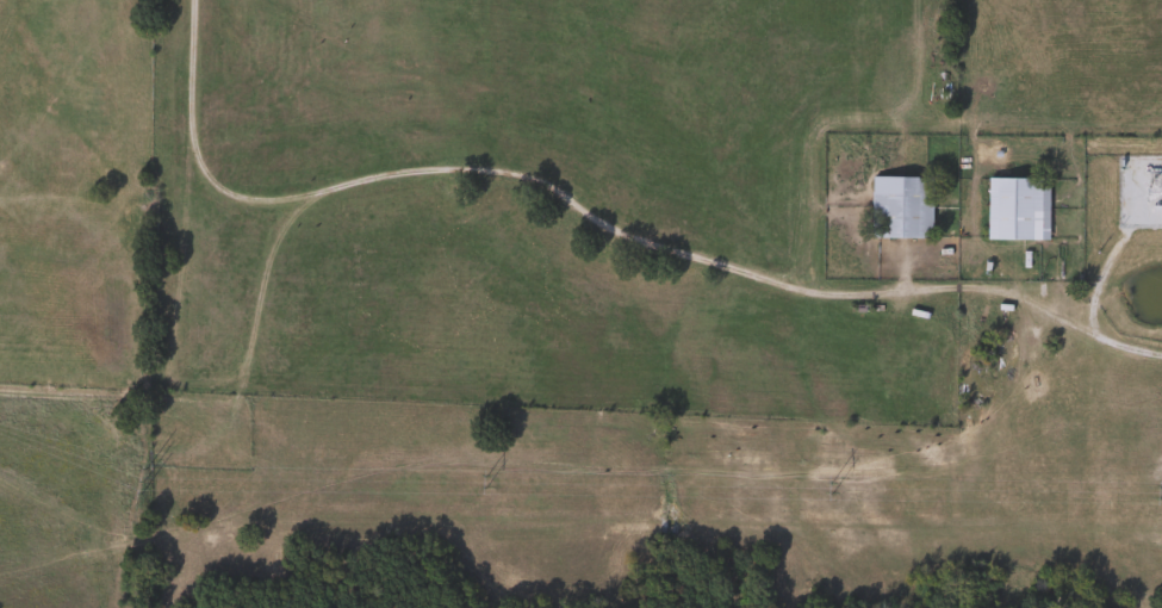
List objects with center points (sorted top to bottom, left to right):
building: (897, 205)
building: (1014, 207)
road: (1074, 324)
power tower: (145, 480)
power tower: (486, 482)
power tower: (832, 489)
power tower: (1160, 492)

